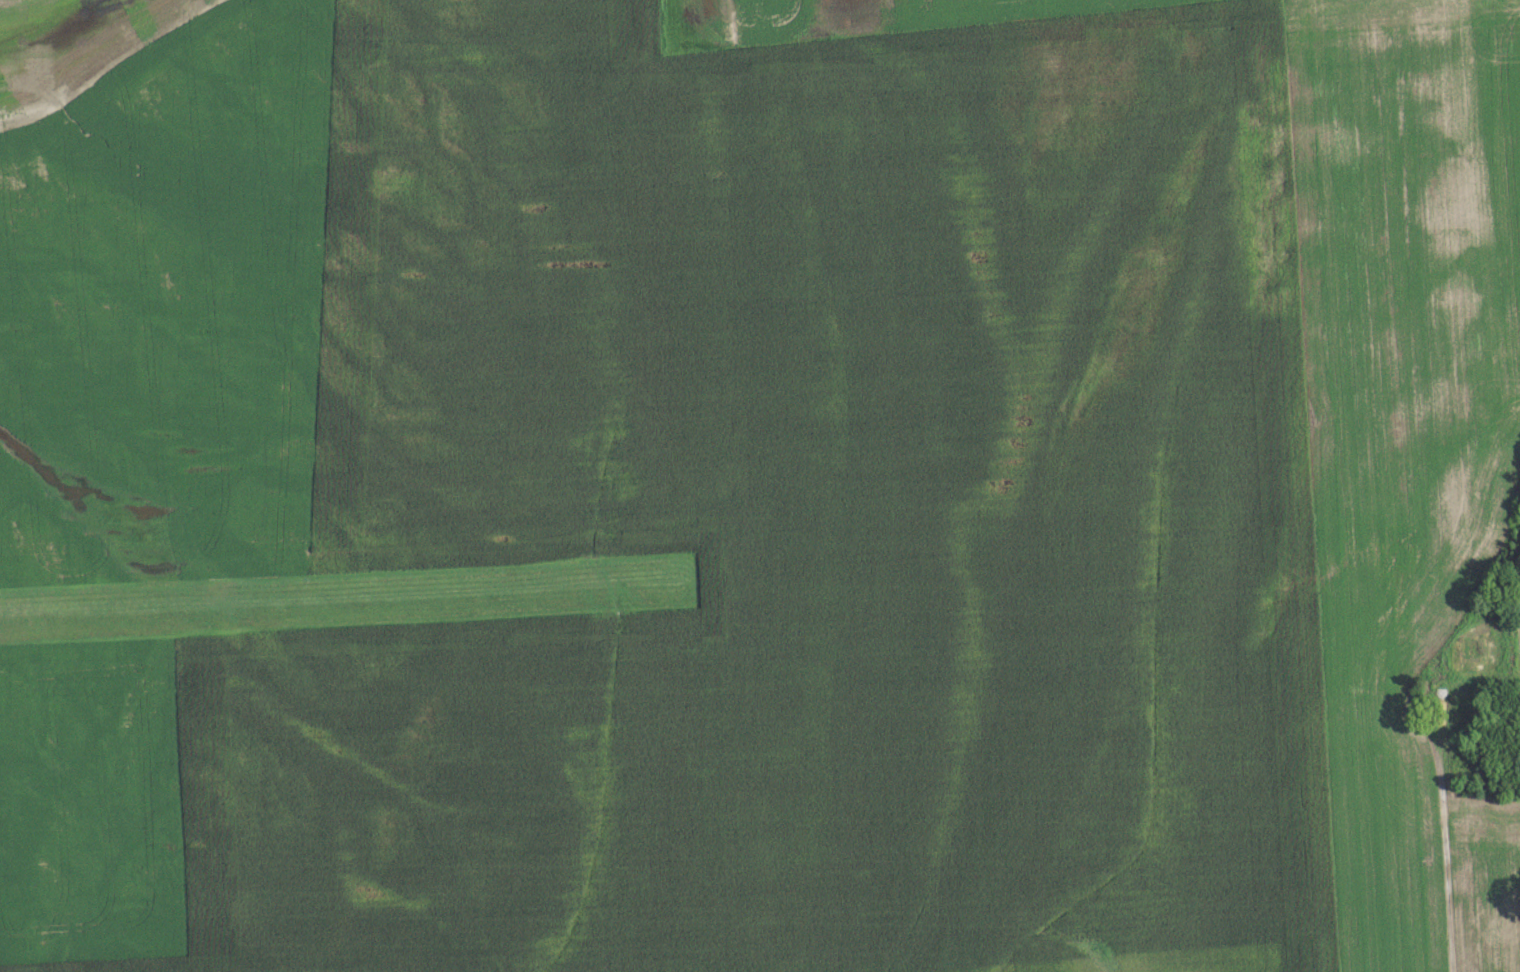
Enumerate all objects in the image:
airport runway: (346, 598)
road: (1443, 824)

